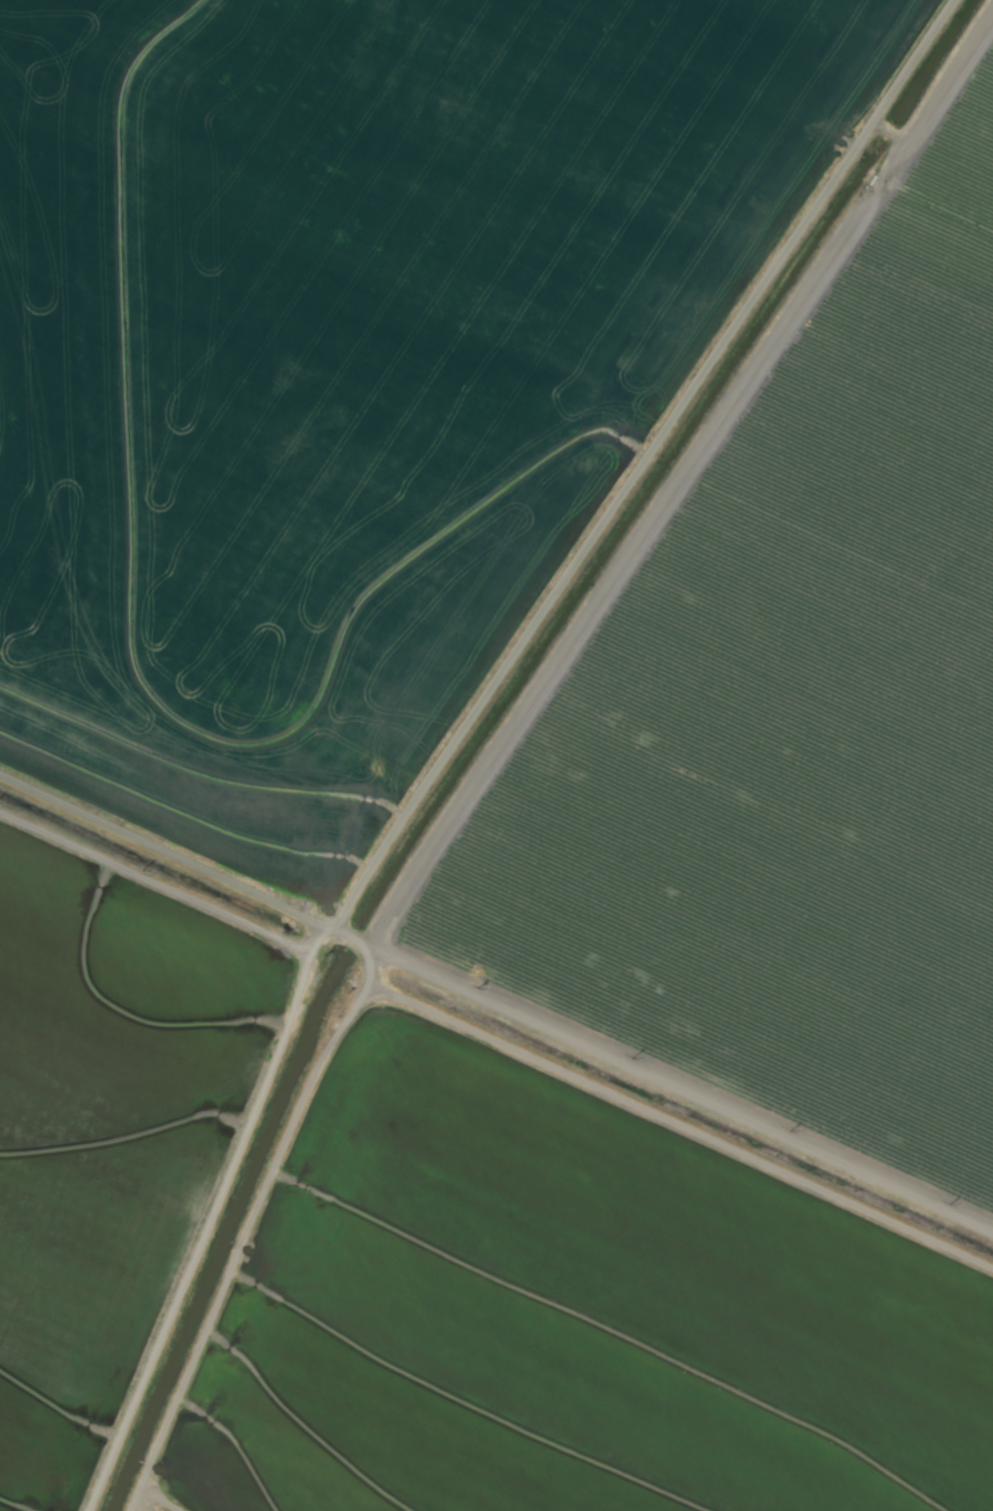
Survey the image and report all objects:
crop: (496, 755)

